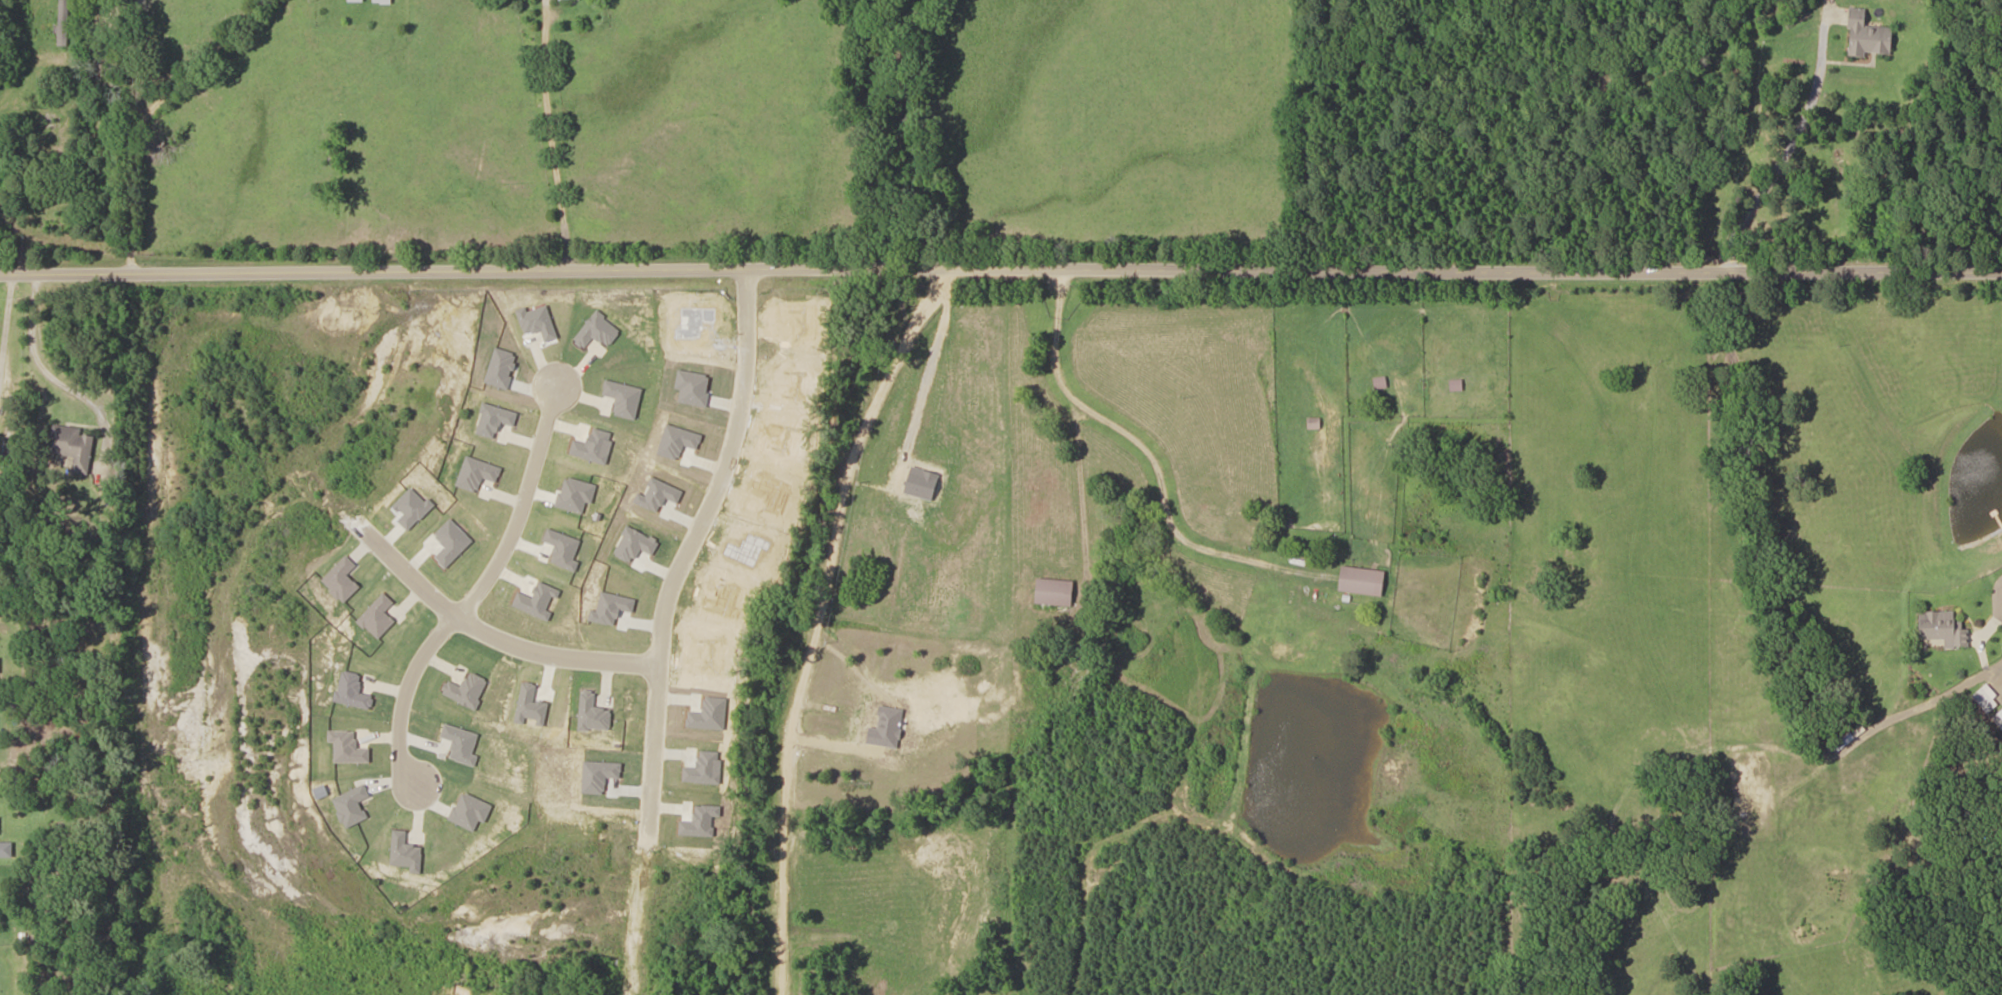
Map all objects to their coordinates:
building: (567, 0)
building: (374, 1)
building: (65, 23)
building: (1869, 36)
road: (984, 133)
road: (1001, 269)
building: (1381, 383)
building: (75, 446)
road: (688, 541)
building: (1363, 581)
road: (477, 584)
building: (1056, 592)
road: (491, 626)
building: (1944, 628)
building: (0, 665)
building: (1988, 698)
building: (1845, 741)
building: (0, 826)

